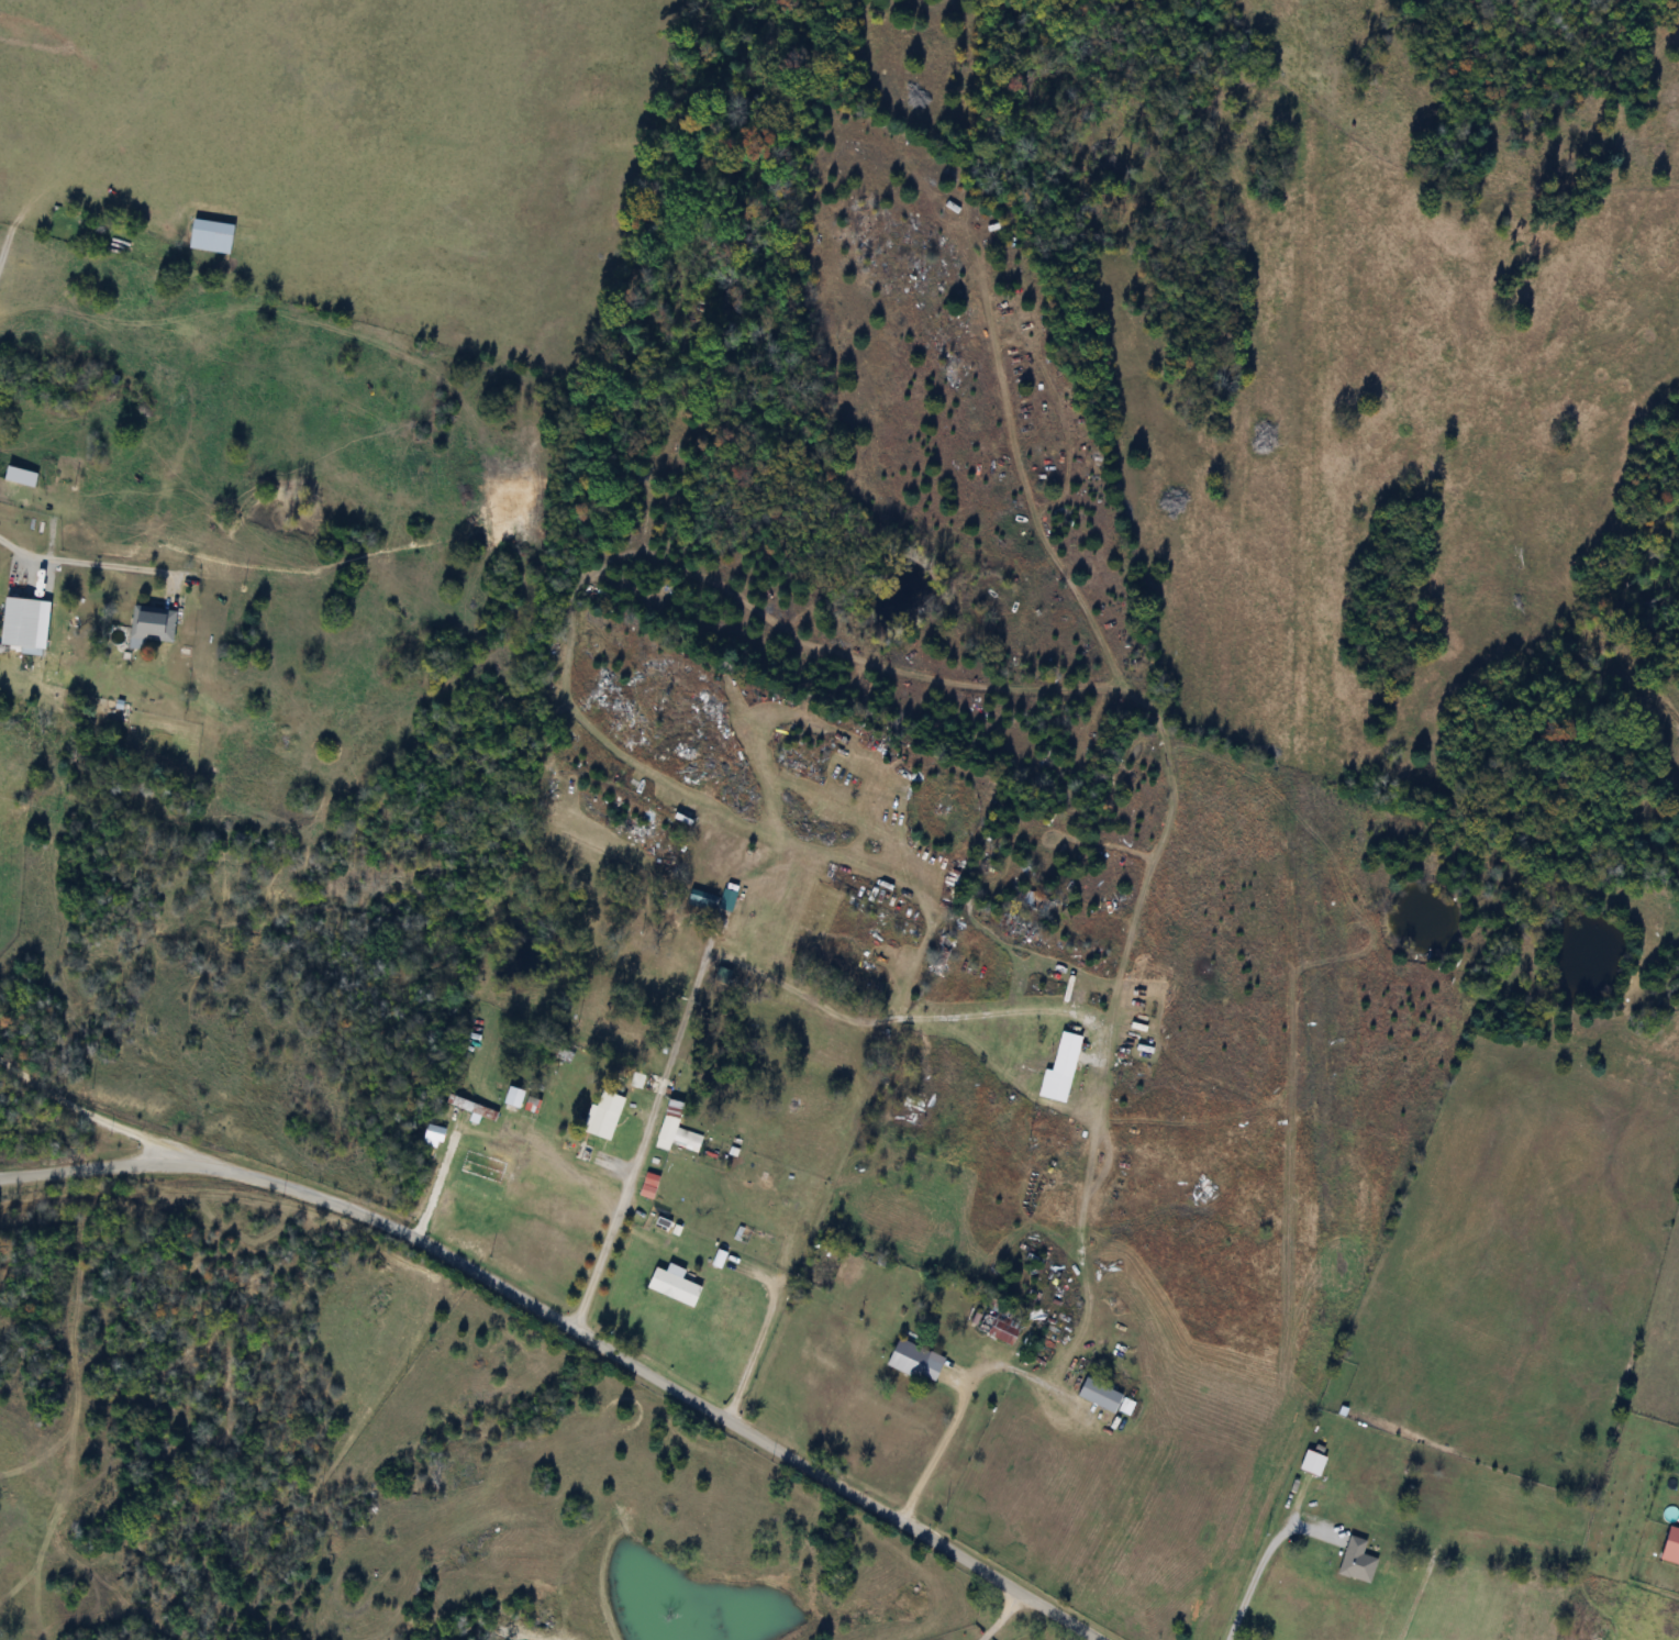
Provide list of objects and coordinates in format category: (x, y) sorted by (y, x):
building: (209, 236)
road: (81, 561)
building: (18, 623)
building: (149, 625)
building: (1027, 900)
building: (1016, 927)
building: (941, 955)
building: (1059, 1068)
building: (531, 1105)
building: (469, 1107)
building: (599, 1111)
road: (107, 1121)
building: (667, 1123)
building: (672, 1131)
building: (580, 1154)
road: (435, 1187)
road: (614, 1222)
road: (440, 1253)
building: (670, 1281)
building: (724, 1308)
building: (998, 1323)
road: (757, 1342)
road: (1071, 1348)
building: (912, 1361)
building: (1098, 1395)
building: (1310, 1462)
building: (1670, 1545)
road: (968, 1561)
building: (1355, 1561)
road: (1257, 1570)
road: (999, 1616)

